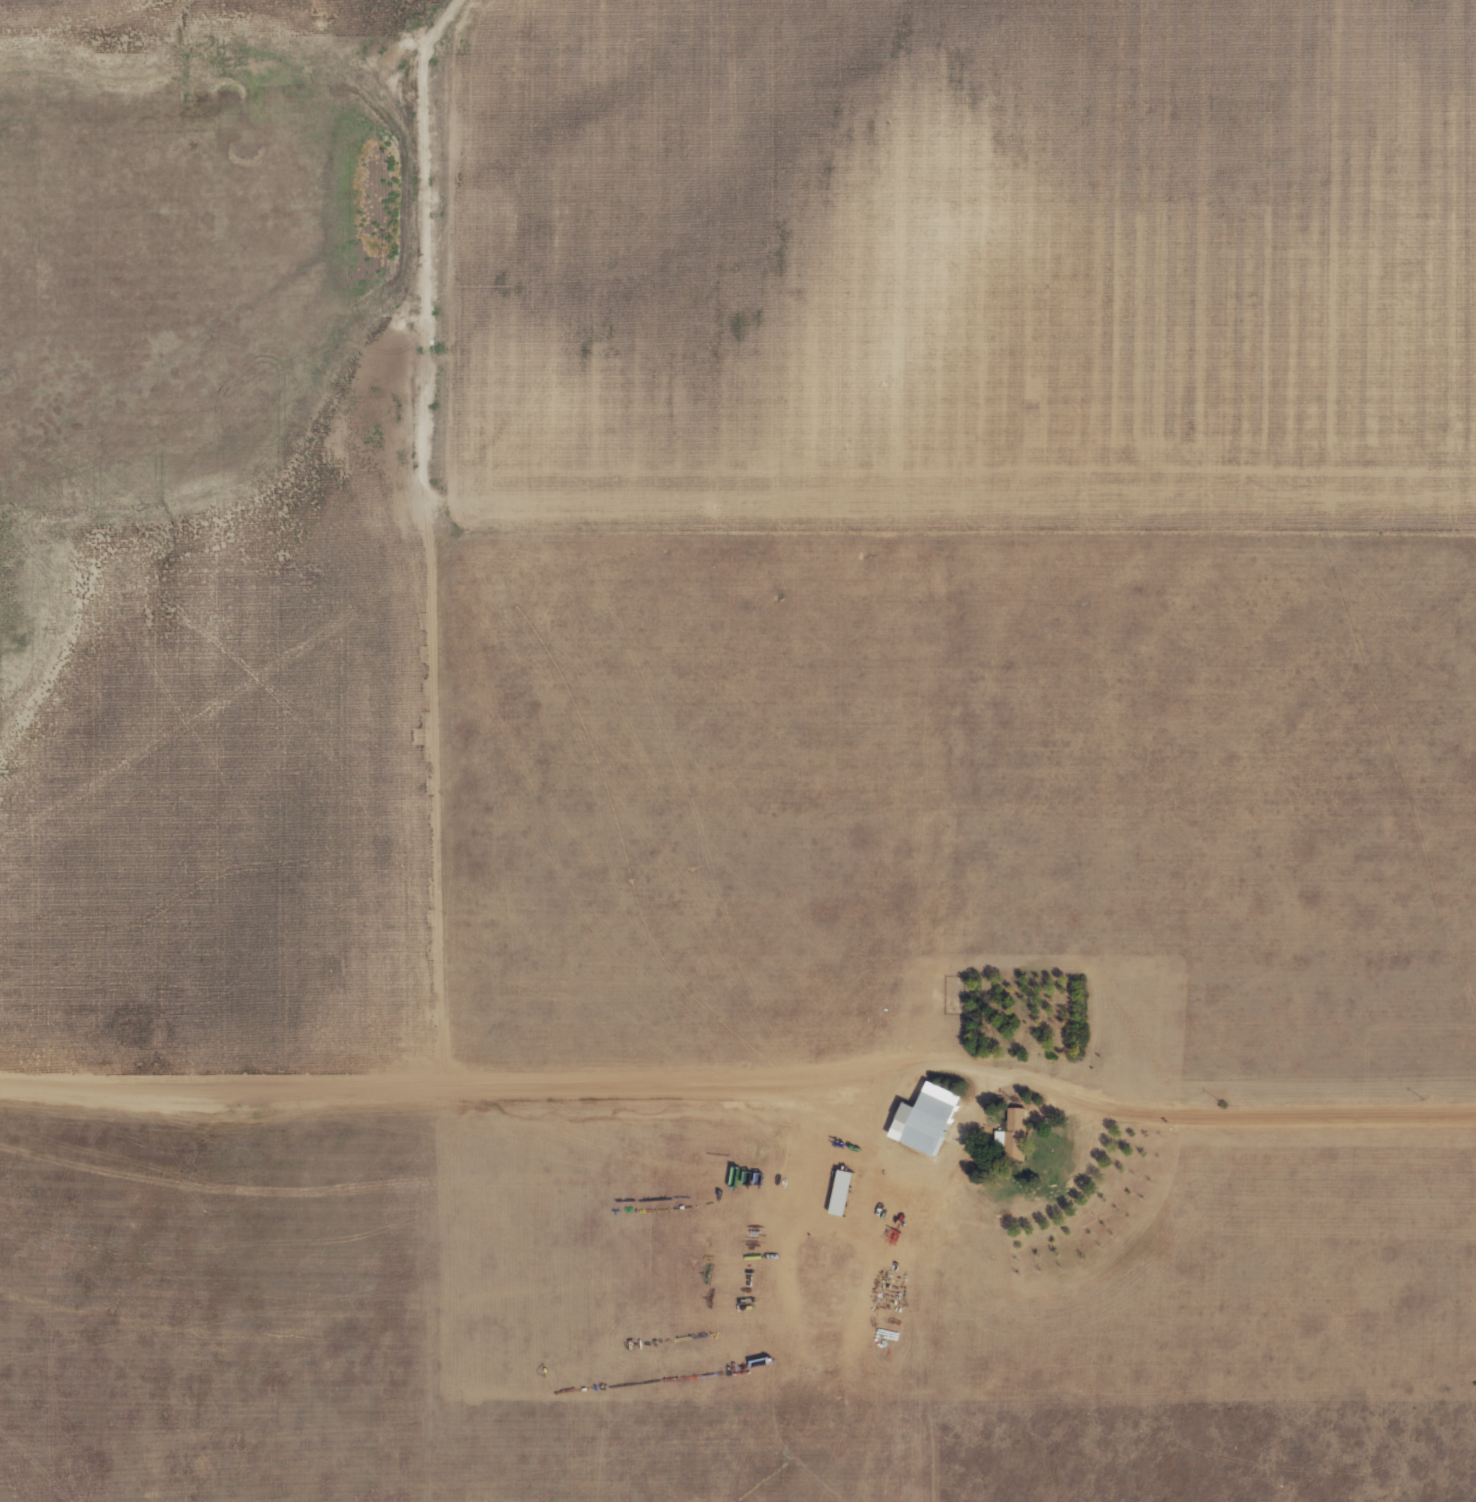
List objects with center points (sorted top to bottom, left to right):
road: (1188, 1115)
building: (928, 1122)
building: (1017, 1133)

